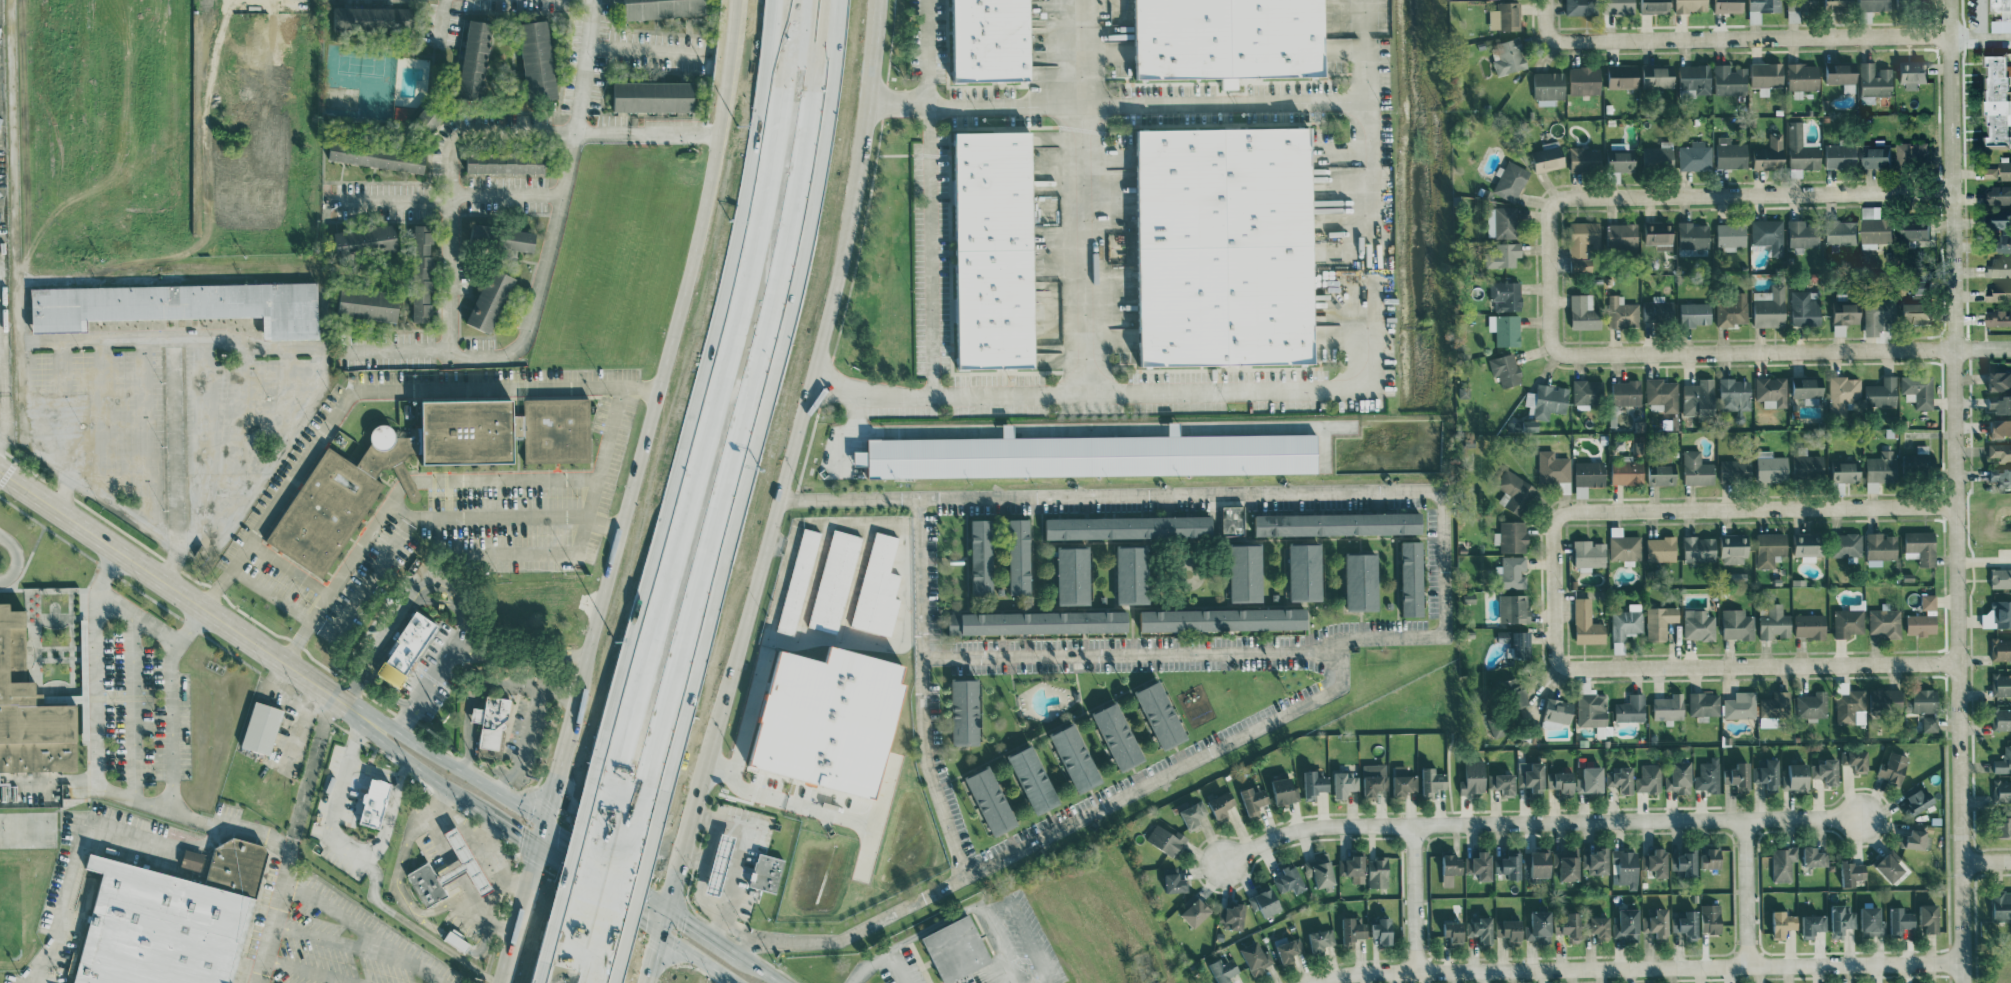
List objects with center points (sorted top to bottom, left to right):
building: (1837, 3)
building: (1691, 5)
building: (1730, 5)
building: (1619, 6)
building: (1655, 6)
building: (1581, 7)
building: (664, 8)
building: (1762, 8)
building: (1801, 9)
building: (1505, 16)
building: (2007, 16)
building: (373, 18)
road: (1977, 20)
road: (446, 23)
building: (989, 39)
building: (1227, 39)
road: (1980, 39)
road: (1729, 41)
road: (648, 49)
road: (928, 50)
building: (1508, 56)
building: (474, 58)
building: (537, 60)
building: (1914, 73)
building: (1842, 74)
building: (1623, 76)
building: (1658, 76)
building: (1766, 76)
building: (1803, 76)
building: (1696, 78)
building: (1730, 79)
building: (1585, 80)
building: (1874, 81)
building: (1548, 87)
building: (654, 96)
building: (2000, 99)
road: (1022, 102)
road: (1221, 102)
road: (1366, 116)
building: (429, 117)
road: (483, 132)
building: (1801, 149)
building: (1913, 152)
building: (1730, 153)
building: (1770, 153)
building: (377, 155)
building: (1840, 155)
building: (1548, 156)
building: (1658, 156)
building: (1695, 156)
building: (1878, 156)
road: (156, 157)
building: (1621, 157)
building: (1585, 159)
building: (505, 161)
road: (794, 168)
building: (1999, 171)
building: (1510, 180)
road: (1715, 194)
building: (1998, 195)
road: (443, 196)
building: (1503, 221)
road: (13, 223)
building: (1876, 227)
building: (1917, 229)
building: (1842, 232)
building: (2003, 232)
building: (1804, 233)
building: (1660, 234)
building: (1731, 234)
building: (1768, 234)
building: (1622, 235)
building: (1694, 235)
building: (502, 237)
building: (1583, 237)
building: (366, 240)
building: (1225, 247)
building: (992, 253)
building: (1504, 255)
road: (543, 262)
building: (1581, 264)
building: (1999, 267)
building: (422, 272)
building: (1998, 291)
building: (1506, 295)
building: (490, 299)
building: (368, 304)
building: (179, 305)
building: (1771, 307)
building: (1804, 308)
road: (933, 309)
building: (1658, 310)
building: (1732, 310)
building: (1584, 312)
building: (1622, 312)
building: (1696, 313)
building: (1920, 313)
building: (1879, 314)
building: (1845, 315)
building: (1998, 317)
building: (1506, 329)
road: (172, 333)
road: (1742, 354)
road: (319, 368)
building: (1506, 369)
road: (3, 373)
road: (661, 379)
building: (2000, 380)
road: (589, 386)
building: (1808, 388)
building: (1772, 391)
road: (1077, 392)
building: (1586, 392)
building: (1626, 392)
building: (1883, 392)
building: (1662, 393)
building: (1844, 393)
road: (1006, 394)
building: (1699, 398)
building: (1547, 400)
building: (2001, 403)
road: (710, 416)
road: (4, 425)
building: (2000, 428)
road: (144, 429)
road: (800, 431)
road: (327, 435)
building: (557, 435)
road: (206, 445)
building: (2000, 451)
building: (1092, 455)
building: (1809, 466)
building: (1553, 467)
building: (1772, 467)
building: (1697, 468)
building: (1736, 469)
building: (1880, 470)
building: (1627, 471)
building: (1847, 471)
building: (1662, 474)
building: (1589, 476)
building: (2001, 476)
road: (261, 477)
road: (64, 490)
road: (1955, 491)
building: (1516, 492)
building: (342, 494)
road: (1441, 496)
road: (406, 499)
road: (116, 504)
road: (1719, 510)
building: (1233, 520)
building: (1338, 524)
building: (1129, 527)
road: (611, 529)
building: (1512, 536)
building: (1847, 544)
building: (1808, 545)
building: (1624, 546)
building: (1921, 547)
building: (1700, 548)
building: (1734, 548)
building: (1770, 548)
building: (1881, 548)
building: (1661, 549)
building: (1589, 553)
road: (16, 556)
building: (1020, 556)
building: (982, 557)
road: (570, 560)
road: (171, 564)
building: (1514, 571)
building: (1306, 572)
building: (1246, 573)
building: (1133, 574)
building: (1413, 578)
building: (2001, 578)
building: (798, 580)
building: (834, 581)
building: (1362, 582)
building: (878, 587)
road: (700, 592)
road: (183, 595)
building: (1929, 602)
building: (1514, 608)
building: (2002, 613)
road: (400, 614)
road: (136, 617)
building: (1224, 619)
building: (1661, 620)
building: (1039, 622)
building: (1775, 622)
building: (1886, 622)
building: (1588, 623)
building: (1627, 624)
building: (1699, 624)
building: (1737, 624)
building: (1922, 624)
building: (1811, 626)
building: (1505, 636)
building: (1522, 645)
building: (407, 648)
building: (2001, 650)
road: (439, 666)
road: (1719, 666)
building: (2001, 684)
road: (484, 685)
road: (928, 689)
building: (1515, 693)
building: (1886, 699)
building: (1926, 700)
building: (1848, 703)
building: (1704, 704)
building: (1741, 705)
building: (1811, 705)
building: (1775, 706)
building: (1669, 707)
building: (1631, 708)
building: (29, 710)
building: (1559, 710)
building: (1593, 711)
building: (965, 712)
building: (1161, 715)
building: (2004, 718)
building: (830, 720)
building: (491, 722)
building: (1930, 723)
building: (1497, 724)
building: (261, 728)
building: (1119, 736)
road: (354, 739)
road: (523, 742)
building: (1076, 758)
building: (1856, 759)
building: (2004, 761)
road: (404, 767)
road: (457, 767)
building: (1893, 767)
road: (310, 771)
road: (375, 771)
road: (423, 771)
building: (1827, 771)
building: (1708, 775)
building: (1768, 775)
building: (1532, 776)
building: (1739, 776)
building: (1680, 777)
building: (1797, 777)
building: (1374, 778)
building: (1474, 778)
building: (1649, 778)
building: (1621, 779)
building: (1034, 780)
building: (1591, 780)
road: (772, 781)
building: (1403, 781)
building: (1433, 781)
building: (1562, 781)
building: (1315, 784)
building: (1344, 784)
building: (1503, 784)
road: (553, 788)
building: (1284, 790)
building: (2002, 791)
road: (114, 792)
building: (1254, 800)
building: (1918, 800)
building: (991, 801)
building: (374, 803)
traffic signals: (550, 803)
building: (1222, 805)
building: (1193, 814)
road: (192, 817)
road: (332, 819)
road: (456, 822)
road: (1538, 822)
road: (1066, 826)
road: (110, 828)
building: (2005, 828)
road: (512, 832)
traffic signals: (563, 834)
road: (540, 835)
traffic signals: (519, 837)
building: (1918, 839)
building: (1166, 840)
road: (717, 841)
road: (608, 847)
building: (1814, 857)
building: (1713, 858)
building: (192, 859)
building: (1527, 859)
road: (1986, 859)
building: (1596, 861)
building: (1686, 862)
building: (464, 863)
gas station: (464, 863)
building: (1659, 863)
building: (1783, 863)
road: (607, 864)
building: (1510, 864)
building: (1541, 864)
road: (494, 865)
building: (720, 865)
gas station: (720, 865)
building: (1570, 865)
building: (1481, 866)
building: (1891, 866)
building: (1353, 868)
building: (1626, 868)
building: (1451, 869)
building: (1321, 870)
building: (766, 872)
building: (1378, 873)
building: (1853, 873)
road: (529, 878)
building: (1290, 880)
road: (678, 881)
building: (425, 883)
building: (1175, 883)
road: (579, 888)
road: (599, 892)
road: (1746, 892)
road: (1415, 899)
road: (705, 901)
building: (1265, 901)
road: (382, 905)
building: (2002, 906)
road: (617, 909)
road: (491, 910)
building: (1196, 913)
building: (1233, 913)
road: (602, 914)
road: (274, 915)
road: (344, 915)
traffic signals: (686, 917)
building: (1711, 918)
building: (1930, 919)
building: (169, 920)
building: (1842, 920)
building: (1901, 920)
road: (666, 921)
building: (1872, 921)
building: (1659, 922)
traffic signals: (645, 923)
building: (1627, 924)
building: (1783, 924)
building: (1687, 925)
building: (1814, 925)
road: (933, 926)
building: (1539, 928)
building: (1602, 928)
road: (1023, 930)
building: (1353, 930)
building: (1481, 930)
building: (1510, 930)
building: (1383, 931)
building: (1454, 931)
road: (325, 939)
building: (1321, 940)
building: (456, 941)
parking lot: (351, 944)
road: (512, 945)
road: (726, 945)
building: (957, 949)
building: (1289, 950)
traffic signals: (658, 953)
road: (882, 955)
building: (1256, 958)
road: (656, 959)
road: (700, 959)
road: (412, 961)
road: (558, 968)
road: (1639, 968)
road: (308, 969)
building: (1223, 970)
road: (598, 976)
building: (966, 978)

